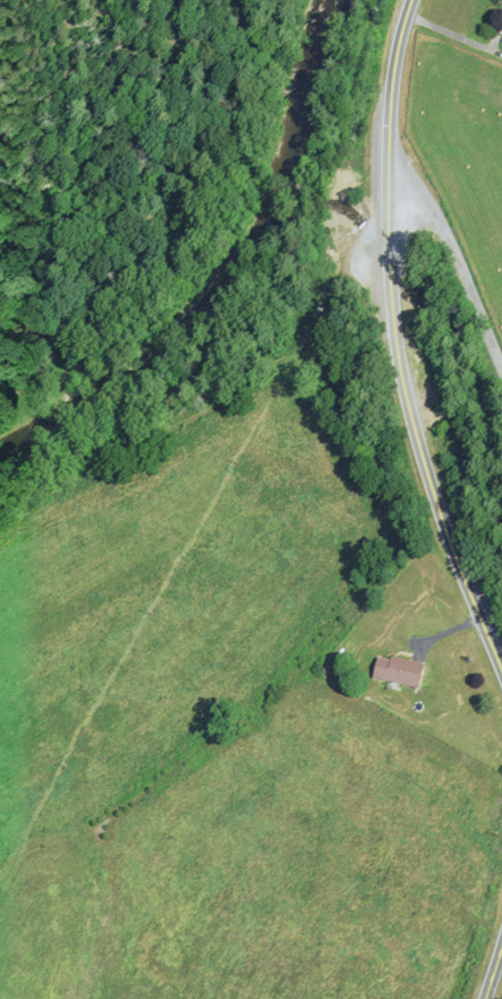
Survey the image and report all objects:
road: (454, 252)
river: (222, 270)
road: (394, 352)
building: (398, 671)
road: (491, 965)

